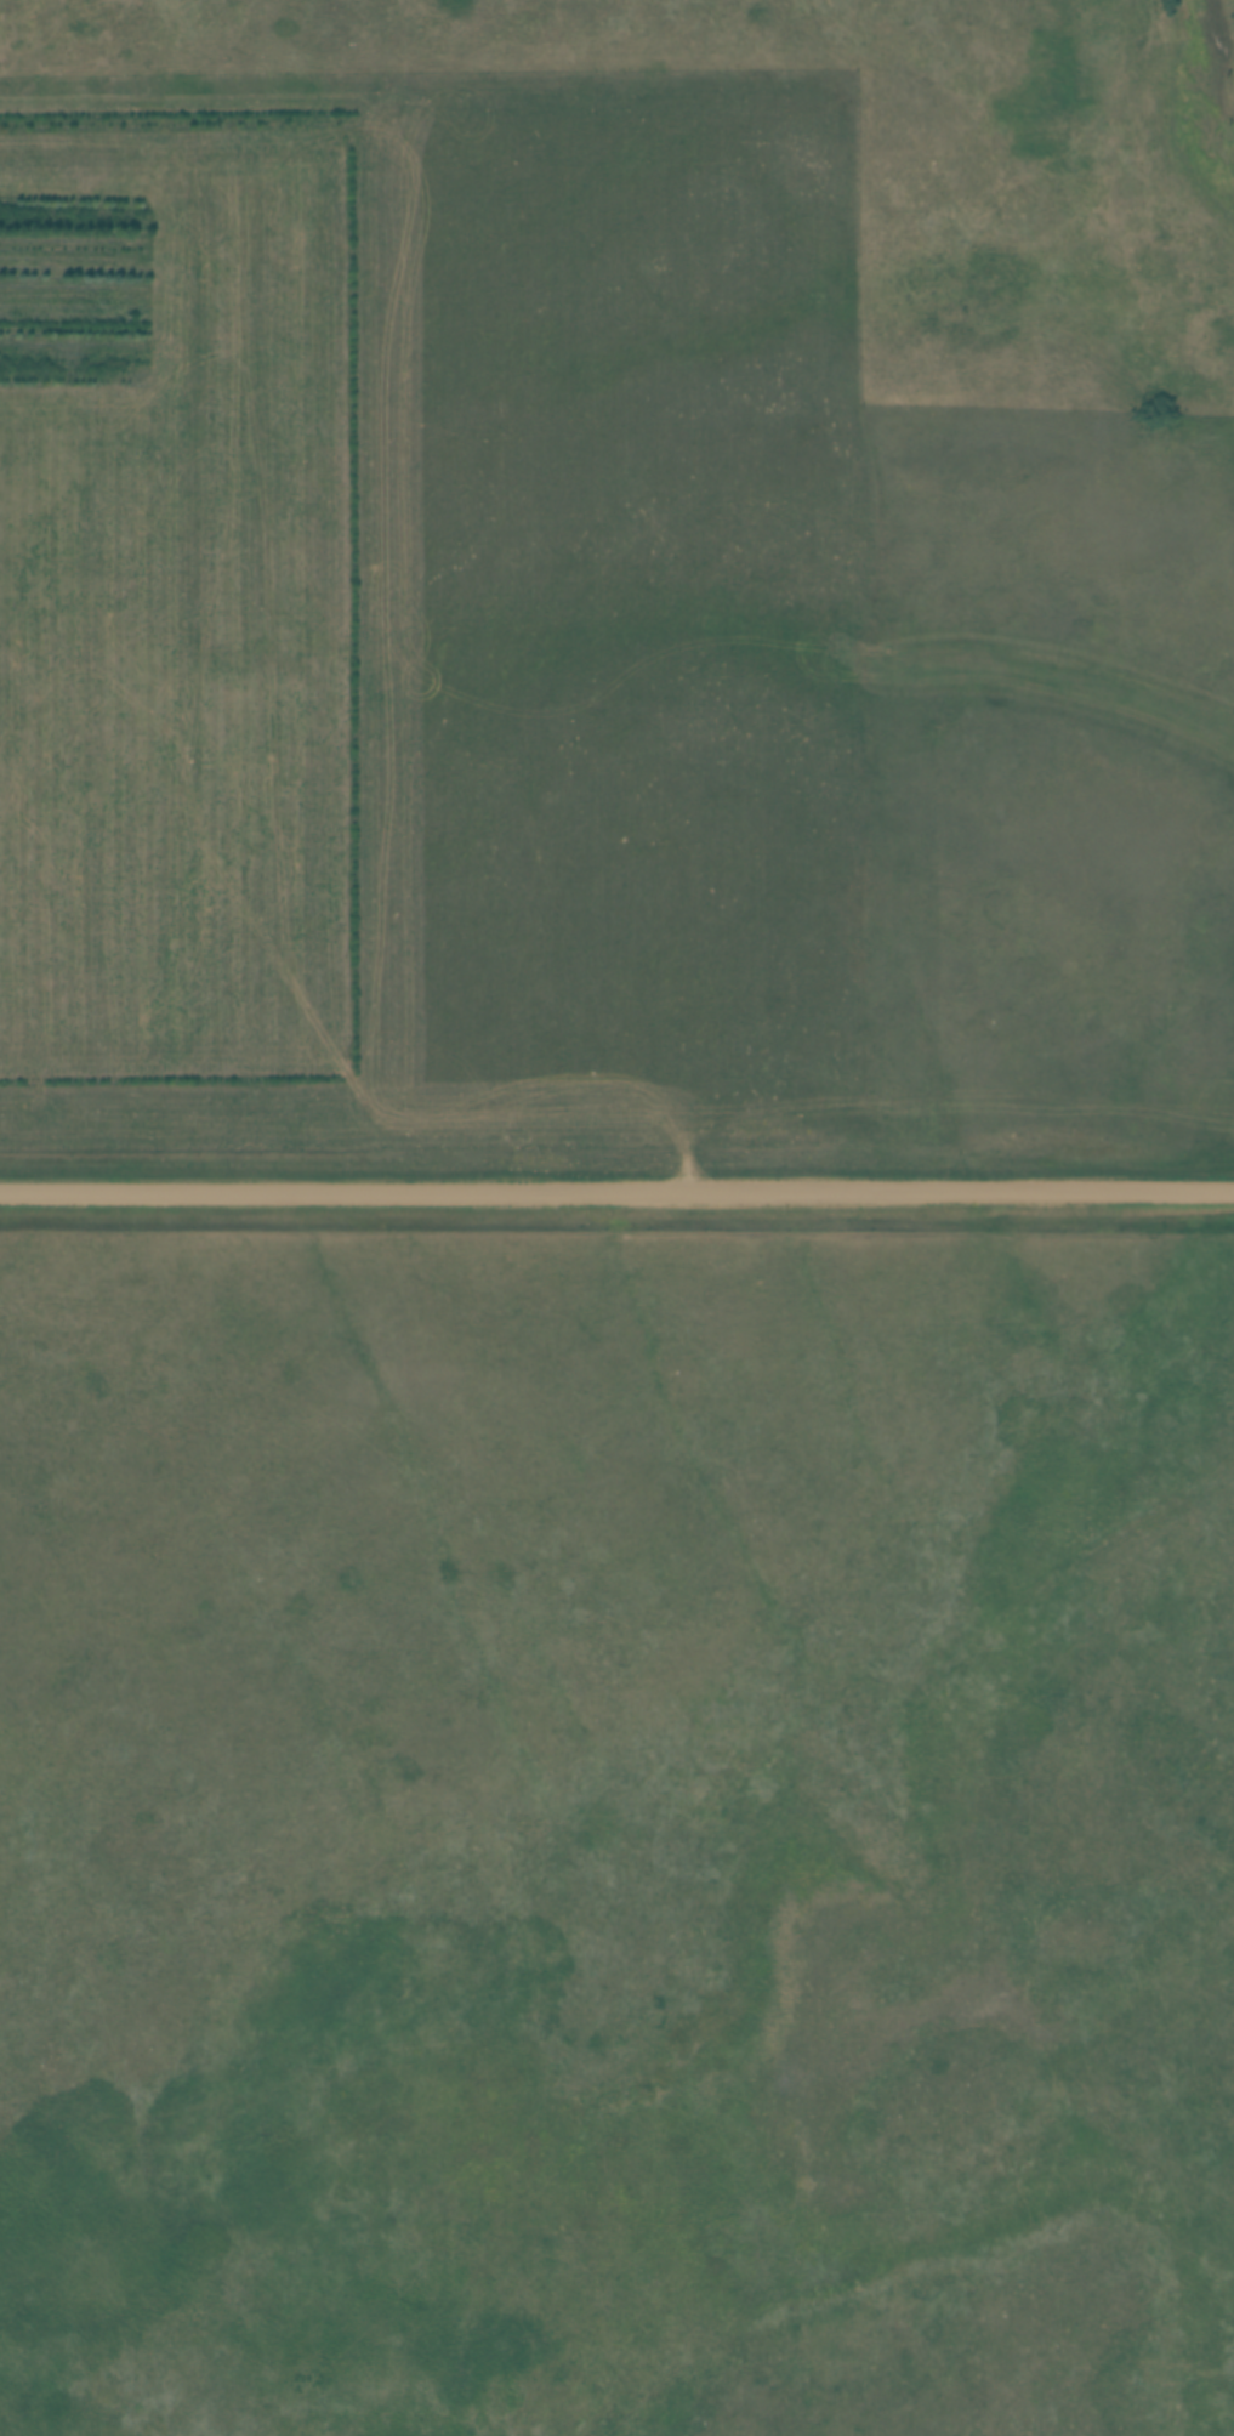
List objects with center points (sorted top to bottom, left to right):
road: (616, 1194)

